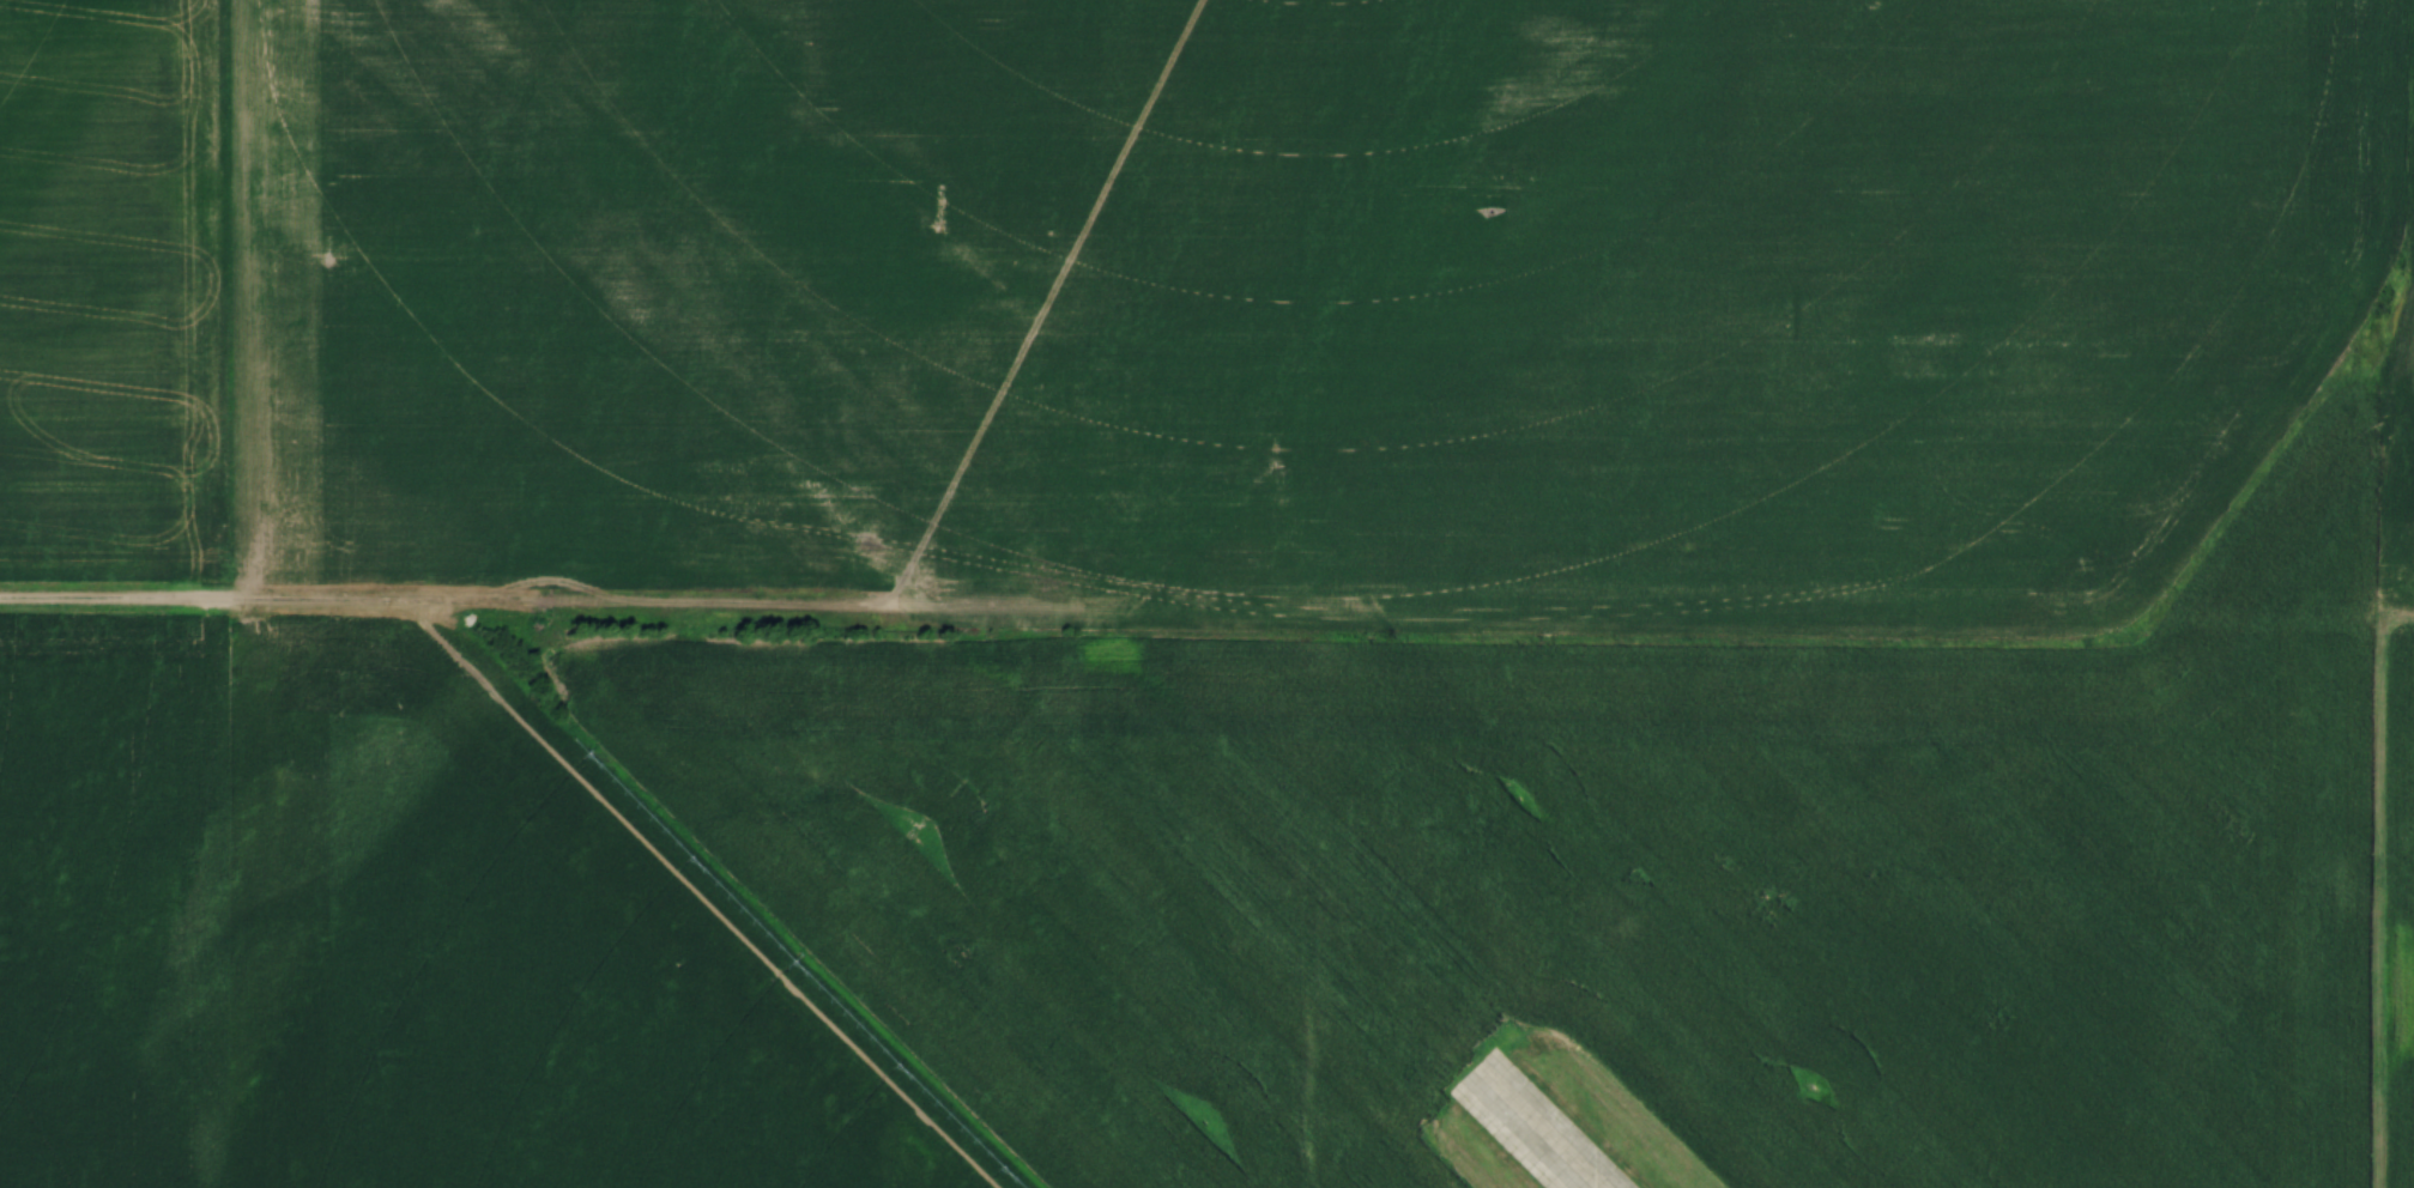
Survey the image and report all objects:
road: (455, 607)
airport runway: (1543, 1128)

